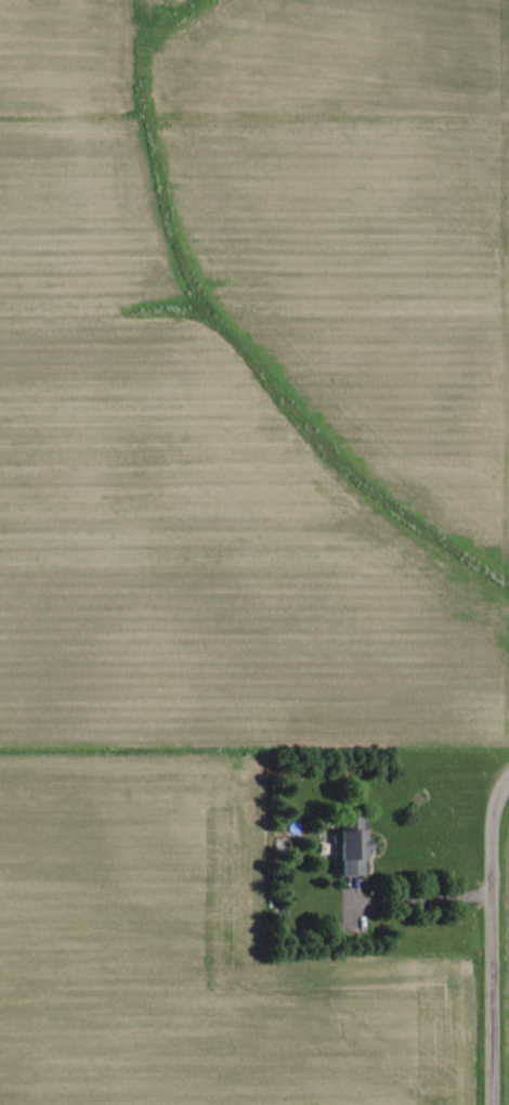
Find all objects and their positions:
road: (506, 771)
building: (347, 848)
road: (494, 938)

